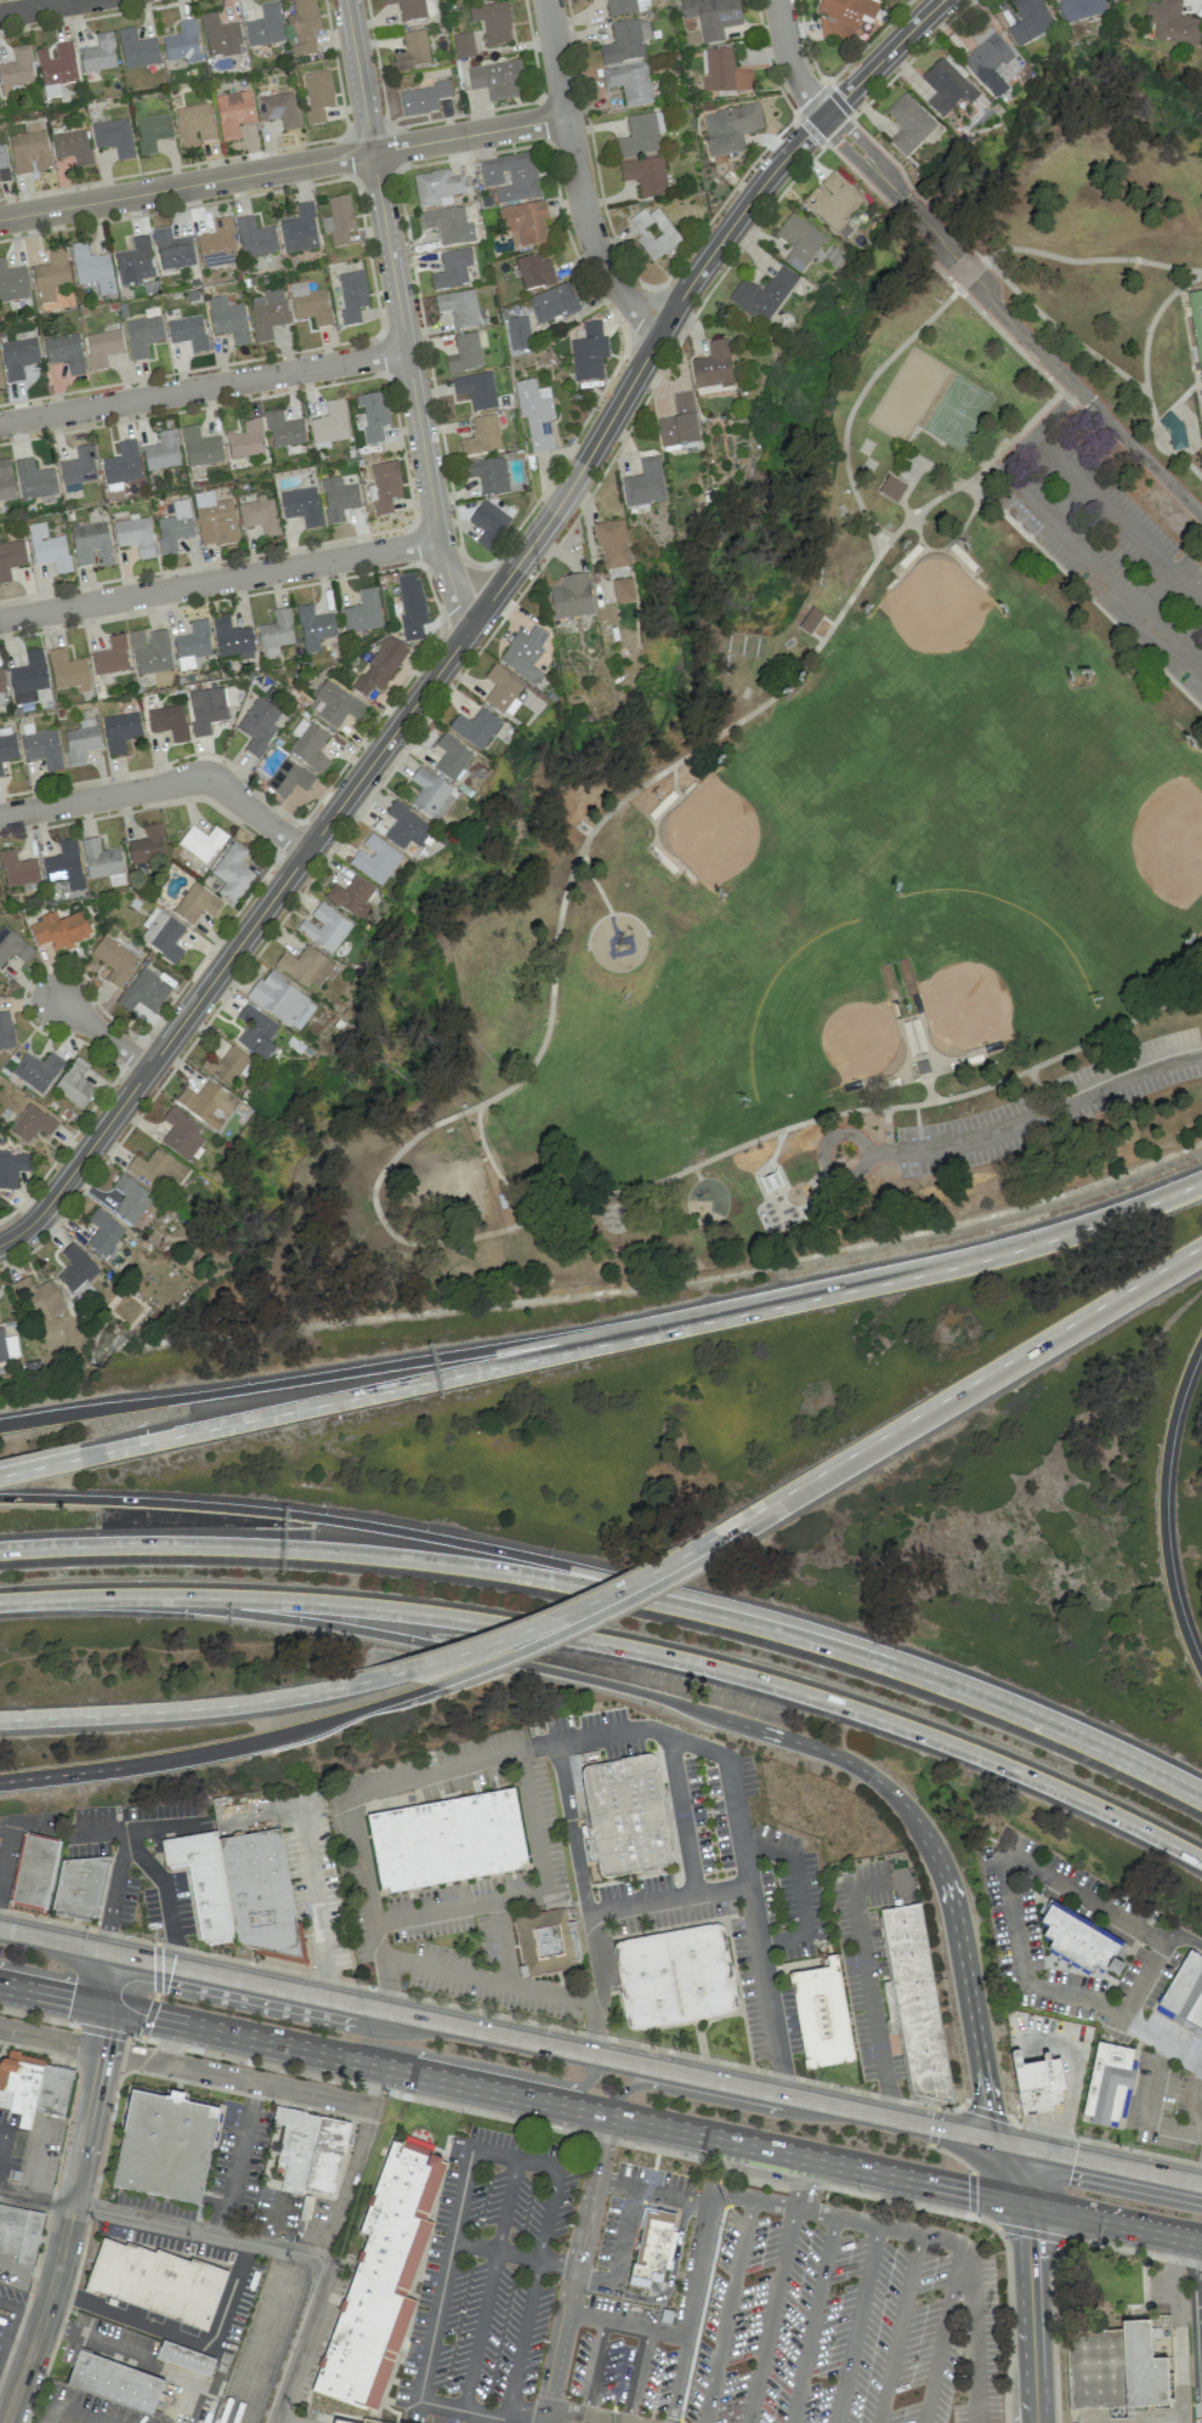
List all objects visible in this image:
road: (39, 6)
building: (414, 8)
building: (1079, 10)
building: (711, 16)
building: (844, 18)
building: (1028, 21)
building: (492, 23)
building: (1172, 23)
building: (265, 27)
building: (302, 27)
building: (220, 36)
building: (625, 41)
building: (182, 44)
building: (463, 45)
building: (136, 50)
building: (412, 51)
building: (98, 55)
building: (987, 59)
road: (790, 62)
building: (57, 66)
building: (16, 72)
building: (724, 73)
building: (497, 80)
building: (629, 83)
building: (947, 86)
building: (51, 91)
building: (317, 96)
building: (424, 98)
building: (278, 109)
building: (233, 113)
road: (799, 114)
building: (908, 124)
building: (194, 125)
building: (730, 129)
building: (152, 132)
building: (641, 136)
building: (114, 137)
building: (73, 147)
building: (29, 149)
building: (2, 157)
road: (866, 159)
road: (283, 169)
building: (645, 176)
building: (510, 177)
road: (577, 177)
building: (436, 188)
road: (913, 193)
building: (833, 202)
road: (896, 214)
building: (338, 220)
building: (525, 222)
building: (444, 225)
building: (299, 229)
building: (653, 233)
building: (254, 238)
building: (799, 242)
building: (217, 244)
building: (172, 250)
road: (1092, 260)
building: (135, 262)
building: (92, 268)
building: (452, 268)
building: (534, 272)
building: (50, 276)
road: (971, 276)
building: (12, 283)
building: (762, 295)
building: (351, 297)
building: (552, 303)
building: (310, 305)
building: (459, 307)
building: (267, 313)
road: (401, 316)
building: (227, 319)
park: (1196, 322)
road: (1062, 330)
building: (188, 331)
building: (142, 335)
building: (517, 335)
road: (1009, 341)
building: (102, 347)
building: (64, 352)
building: (466, 352)
building: (589, 353)
building: (18, 357)
road: (1050, 363)
building: (713, 369)
road: (1144, 375)
park: (1201, 381)
building: (0, 386)
road: (203, 387)
building: (476, 390)
park: (906, 392)
road: (854, 403)
park: (958, 410)
building: (534, 414)
building: (373, 415)
building: (679, 422)
building: (329, 425)
building: (283, 430)
building: (1174, 431)
building: (481, 437)
building: (245, 439)
building: (200, 447)
building: (163, 452)
building: (121, 464)
building: (78, 469)
building: (488, 475)
building: (34, 480)
building: (5, 481)
building: (645, 483)
building: (384, 488)
building: (890, 489)
building: (338, 498)
building: (301, 506)
building: (259, 515)
road: (1118, 518)
building: (214, 520)
building: (488, 523)
building: (174, 527)
road: (1061, 532)
building: (135, 535)
building: (91, 545)
building: (612, 545)
building: (47, 549)
parking lot: (1113, 555)
building: (11, 558)
road: (219, 579)
building: (623, 590)
road: (1085, 595)
building: (571, 597)
building: (410, 606)
building: (362, 612)
building: (810, 620)
road: (474, 623)
building: (312, 626)
building: (274, 630)
building: (229, 637)
building: (191, 645)
building: (149, 651)
building: (523, 654)
park: (929, 654)
building: (109, 656)
building: (379, 666)
building: (67, 671)
building: (28, 677)
building: (1, 683)
building: (500, 690)
building: (336, 702)
building: (208, 707)
building: (166, 720)
building: (256, 727)
building: (475, 727)
road: (725, 728)
building: (119, 730)
building: (80, 742)
building: (307, 743)
building: (7, 748)
building: (41, 749)
park: (806, 751)
building: (450, 757)
park: (1073, 757)
building: (0, 772)
building: (288, 778)
road: (164, 785)
building: (431, 795)
park: (838, 811)
park: (1082, 815)
park: (871, 818)
park: (781, 822)
building: (404, 827)
building: (200, 841)
building: (146, 844)
building: (375, 859)
building: (101, 862)
building: (64, 866)
building: (17, 869)
building: (231, 869)
park: (1062, 876)
building: (351, 897)
building: (195, 904)
building: (324, 927)
building: (58, 930)
building: (161, 935)
building: (12, 947)
building: (306, 966)
park: (987, 966)
building: (143, 991)
building: (282, 1000)
park: (824, 1018)
building: (5, 1031)
building: (255, 1032)
road: (103, 1033)
building: (225, 1065)
building: (36, 1071)
building: (75, 1084)
building: (206, 1103)
parking lot: (1049, 1106)
road: (871, 1108)
road: (1051, 1108)
building: (32, 1123)
building: (181, 1134)
road: (830, 1136)
road: (881, 1153)
road: (493, 1167)
building: (12, 1168)
building: (155, 1168)
building: (130, 1199)
road: (379, 1215)
building: (103, 1232)
road: (999, 1252)
building: (76, 1272)
building: (39, 1298)
building: (7, 1347)
road: (1011, 1363)
road: (396, 1364)
road: (449, 1377)
road: (53, 1463)
road: (770, 1505)
road: (1164, 1506)
road: (775, 1510)
road: (517, 1553)
road: (515, 1577)
road: (16, 1599)
road: (552, 1622)
road: (572, 1628)
road: (635, 1649)
road: (653, 1696)
road: (187, 1710)
road: (205, 1752)
road: (499, 1754)
road: (1107, 1754)
road: (681, 1815)
building: (625, 1816)
road: (30, 1822)
road: (130, 1829)
road: (124, 1834)
road: (741, 1838)
building: (447, 1840)
road: (7, 1845)
road: (134, 1849)
road: (1015, 1856)
building: (34, 1871)
road: (312, 1879)
building: (203, 1883)
building: (79, 1888)
road: (531, 1894)
road: (800, 1894)
building: (260, 1895)
road: (668, 1899)
traffic signals: (106, 1929)
building: (549, 1940)
road: (501, 1942)
building: (1078, 1942)
traffic signals: (160, 1964)
parking lot: (1098, 1973)
building: (676, 1976)
road: (489, 1980)
road: (868, 1985)
building: (1184, 1994)
traffic signals: (69, 1999)
building: (915, 2002)
building: (821, 2015)
road: (497, 2035)
traffic signals: (103, 2037)
road: (50, 2039)
road: (1161, 2041)
road: (171, 2042)
road: (193, 2069)
road: (497, 2069)
road: (1073, 2081)
building: (1107, 2081)
building: (1036, 2082)
building: (19, 2086)
road: (374, 2086)
building: (52, 2090)
road: (685, 2092)
road: (313, 2094)
road: (511, 2094)
traffic signals: (988, 2110)
road: (501, 2116)
road: (1151, 2123)
road: (1197, 2132)
road: (4, 2143)
road: (1109, 2144)
building: (164, 2145)
building: (294, 2145)
road: (81, 2146)
road: (1024, 2147)
building: (325, 2155)
road: (952, 2156)
road: (514, 2157)
traffic signals: (1073, 2157)
road: (239, 2160)
road: (1128, 2169)
road: (1009, 2172)
road: (347, 2183)
road: (803, 2183)
road: (652, 2189)
traffic signals: (966, 2191)
road: (732, 2195)
road: (971, 2195)
road: (506, 2204)
road: (775, 2204)
road: (548, 2213)
road: (816, 2213)
road: (1112, 2220)
road: (165, 2224)
road: (897, 2230)
road: (624, 2232)
building: (21, 2235)
road: (1037, 2235)
traffic signals: (1028, 2237)
road: (1198, 2237)
building: (653, 2246)
road: (1139, 2253)
road: (514, 2254)
road: (576, 2264)
road: (697, 2264)
road: (1197, 2266)
road: (594, 2275)
building: (380, 2280)
parking lot: (487, 2281)
building: (160, 2285)
road: (667, 2288)
road: (1201, 2294)
road: (727, 2311)
parking lot: (769, 2311)
road: (1031, 2311)
road: (436, 2313)
road: (19, 2315)
road: (771, 2315)
road: (813, 2320)
road: (1201, 2321)
road: (624, 2325)
road: (855, 2325)
road: (1179, 2328)
road: (898, 2330)
road: (480, 2331)
road: (974, 2332)
road: (941, 2333)
road: (180, 2336)
road: (522, 2338)
road: (294, 2345)
building: (188, 2359)
road: (594, 2368)
building: (1118, 2370)
road: (636, 2376)
road: (19, 2379)
road: (677, 2379)
building: (115, 2382)
road: (538, 2413)
road: (555, 2413)
road: (511, 2415)
road: (589, 2417)
road: (545, 2418)
road: (276, 2421)
parking lot: (314, 2421)
building: (339, 2421)

